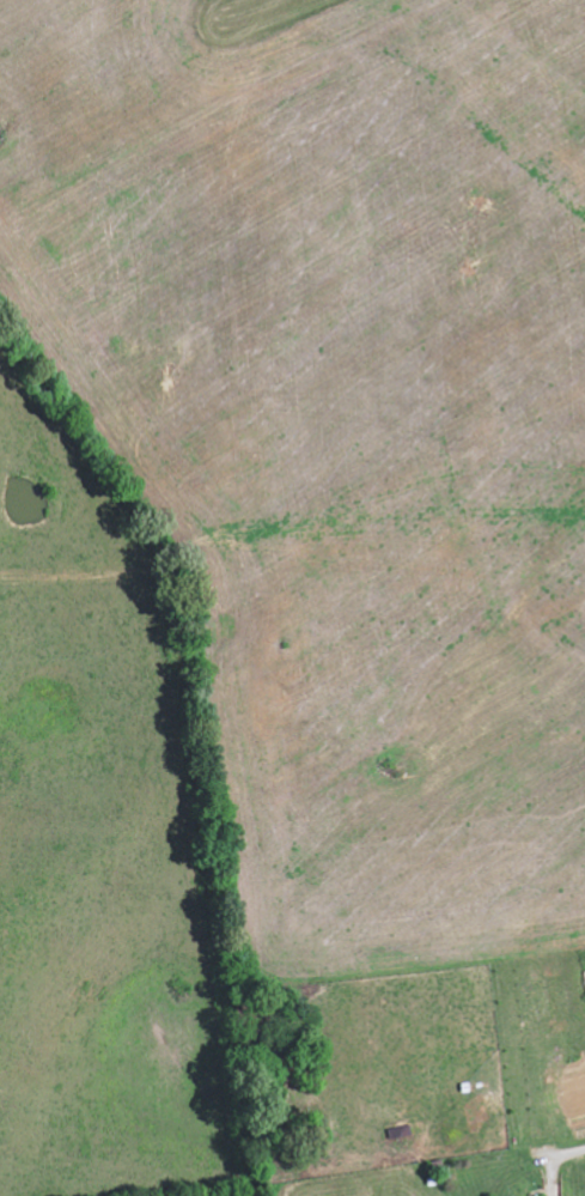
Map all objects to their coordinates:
road: (562, 1155)

